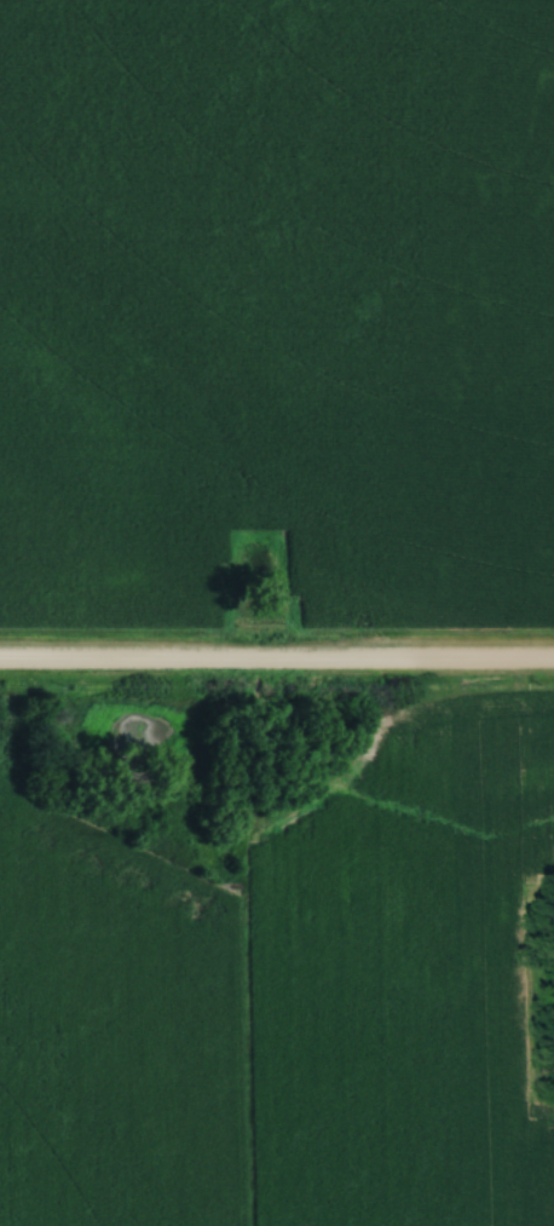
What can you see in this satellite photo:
road: (277, 668)
crop: (110, 1026)

